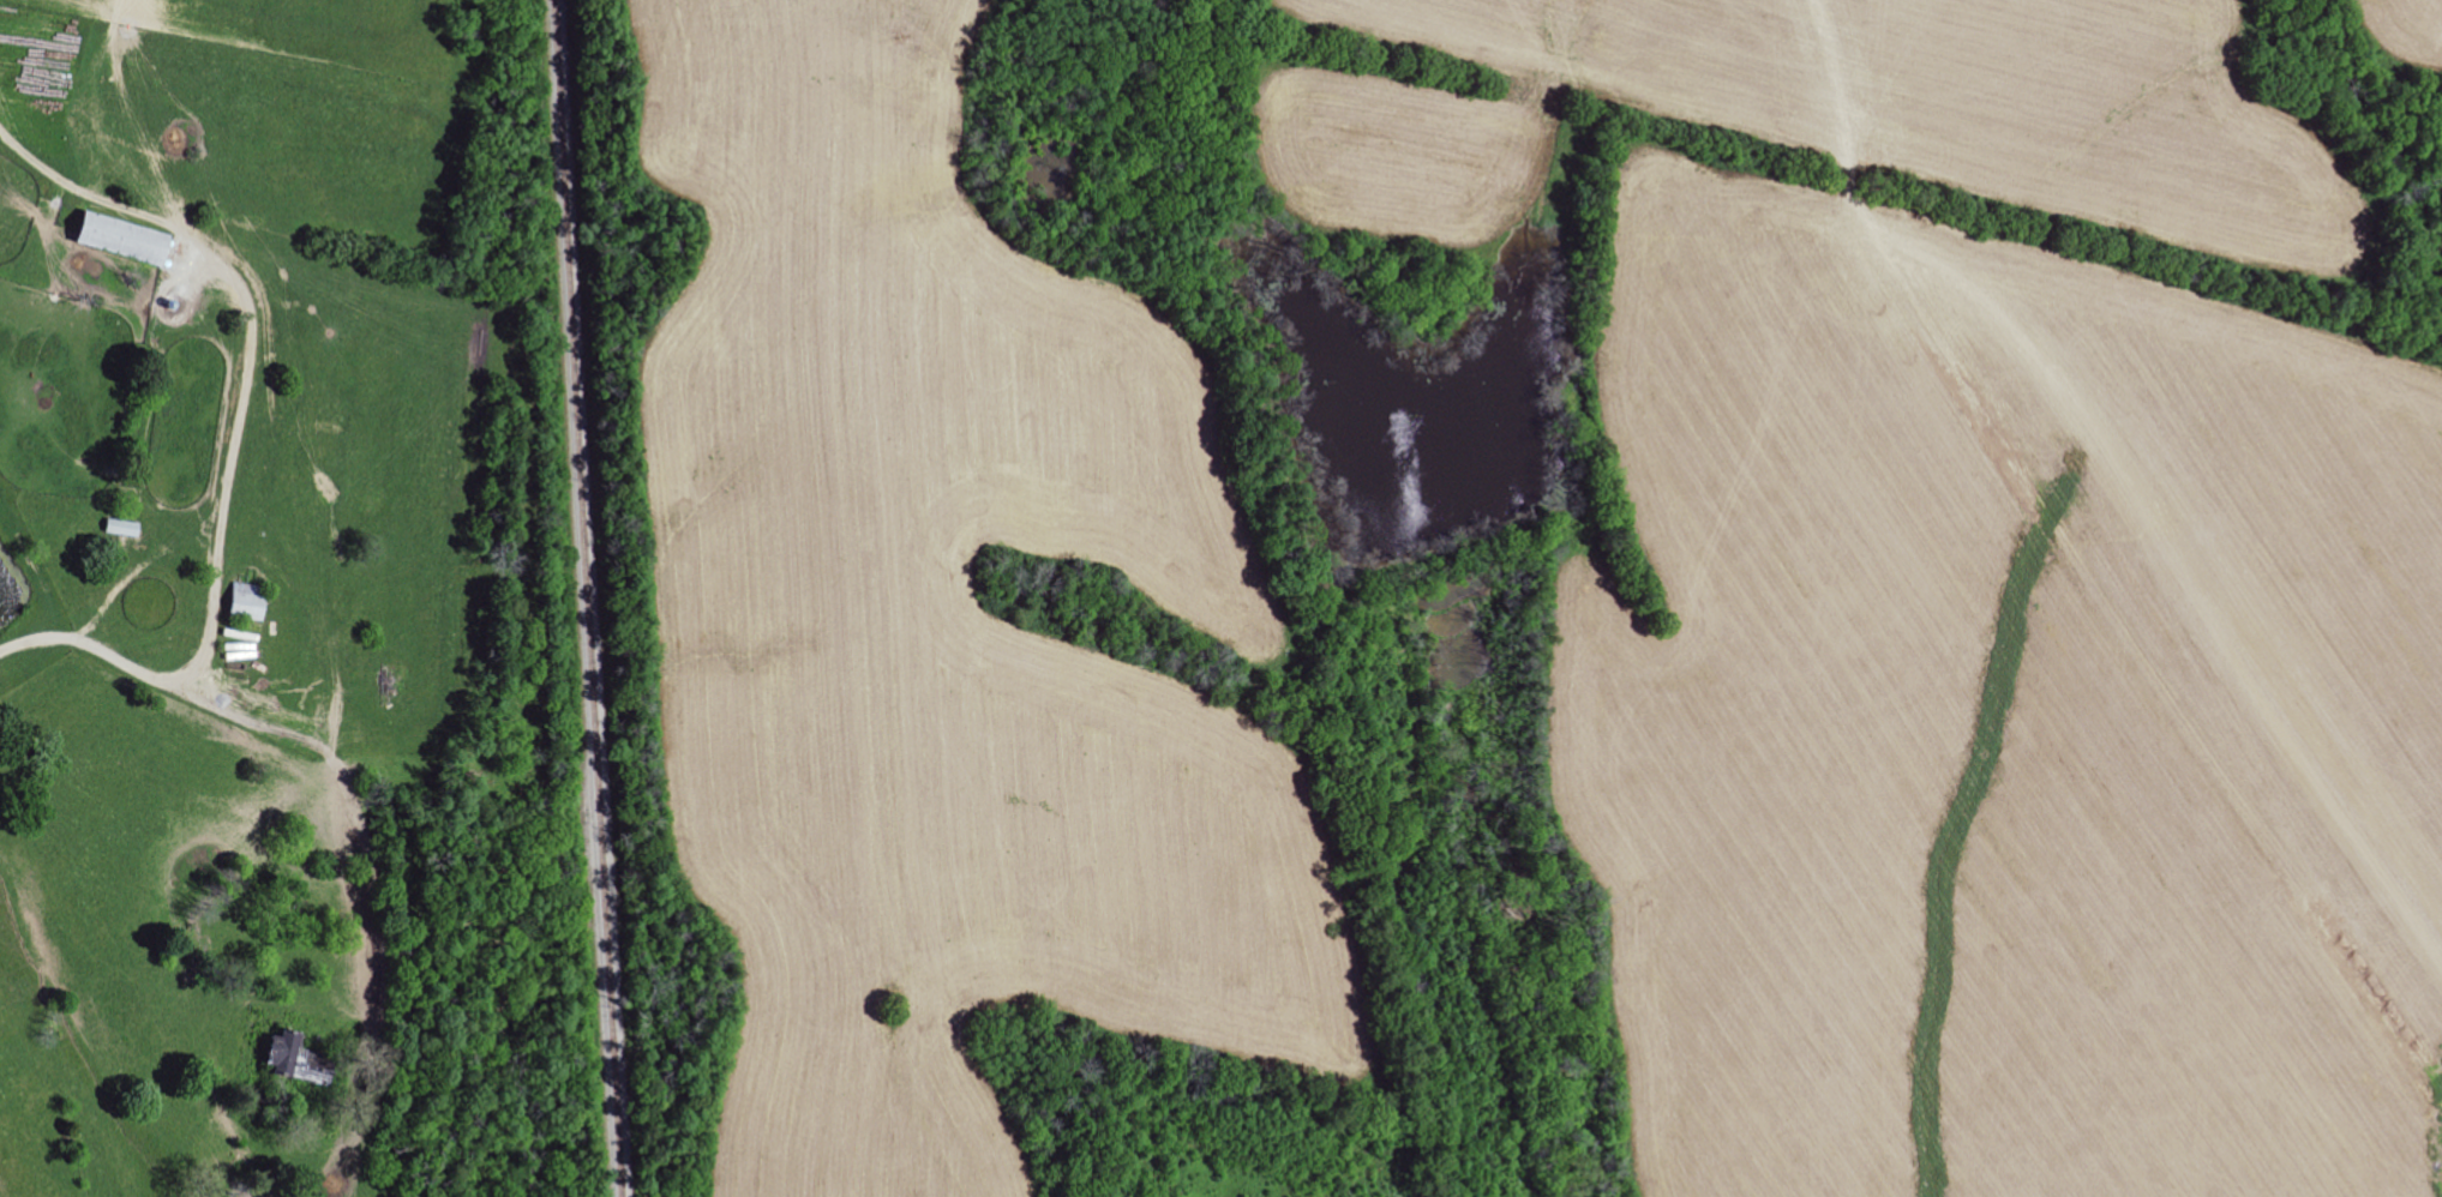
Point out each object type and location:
building: (115, 239)
road: (205, 445)
building: (118, 528)
railway: (590, 597)
building: (241, 600)
road: (401, 870)
road: (176, 1024)

